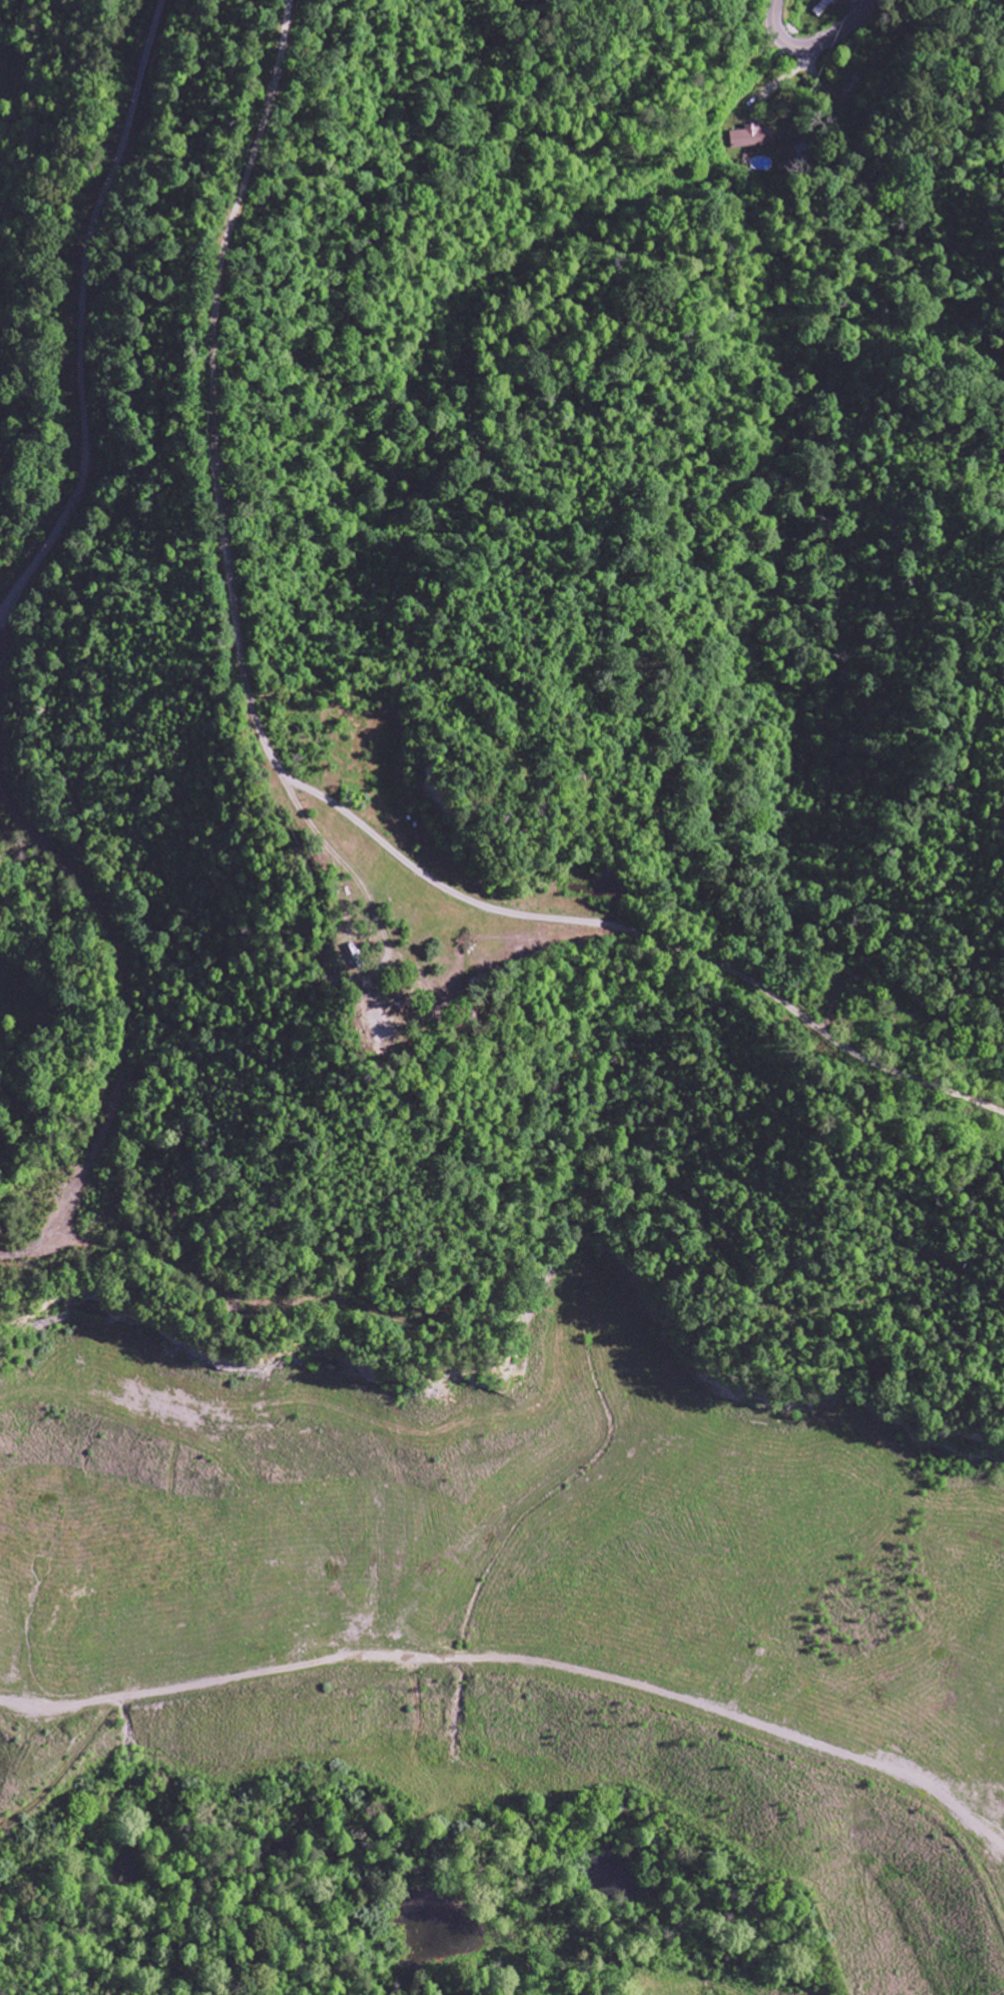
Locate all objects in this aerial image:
road: (814, 44)
building: (751, 136)
building: (361, 956)

